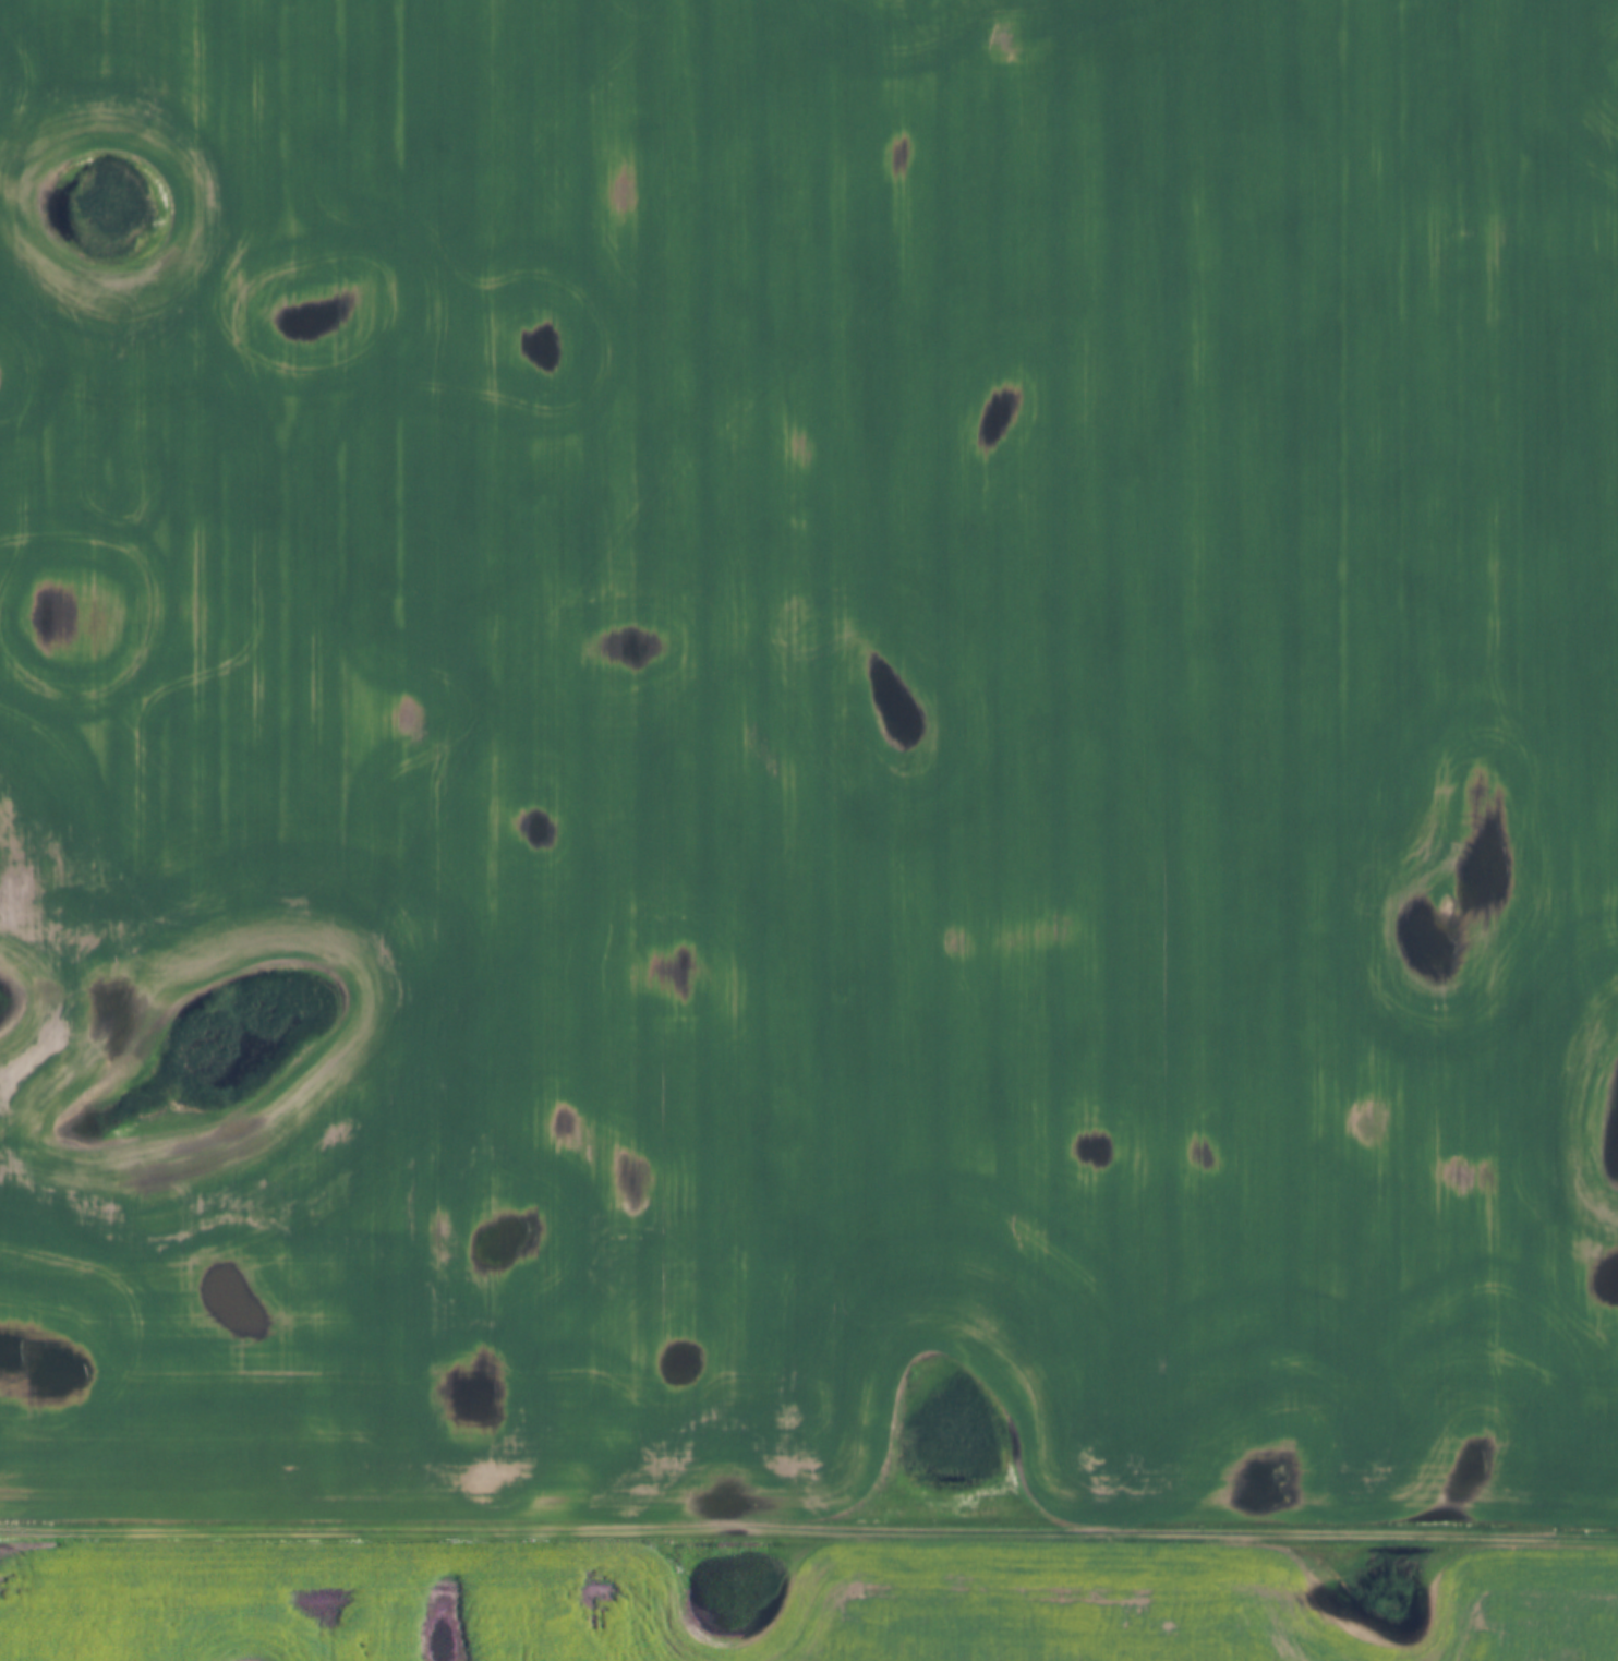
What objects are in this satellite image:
road: (809, 1531)

